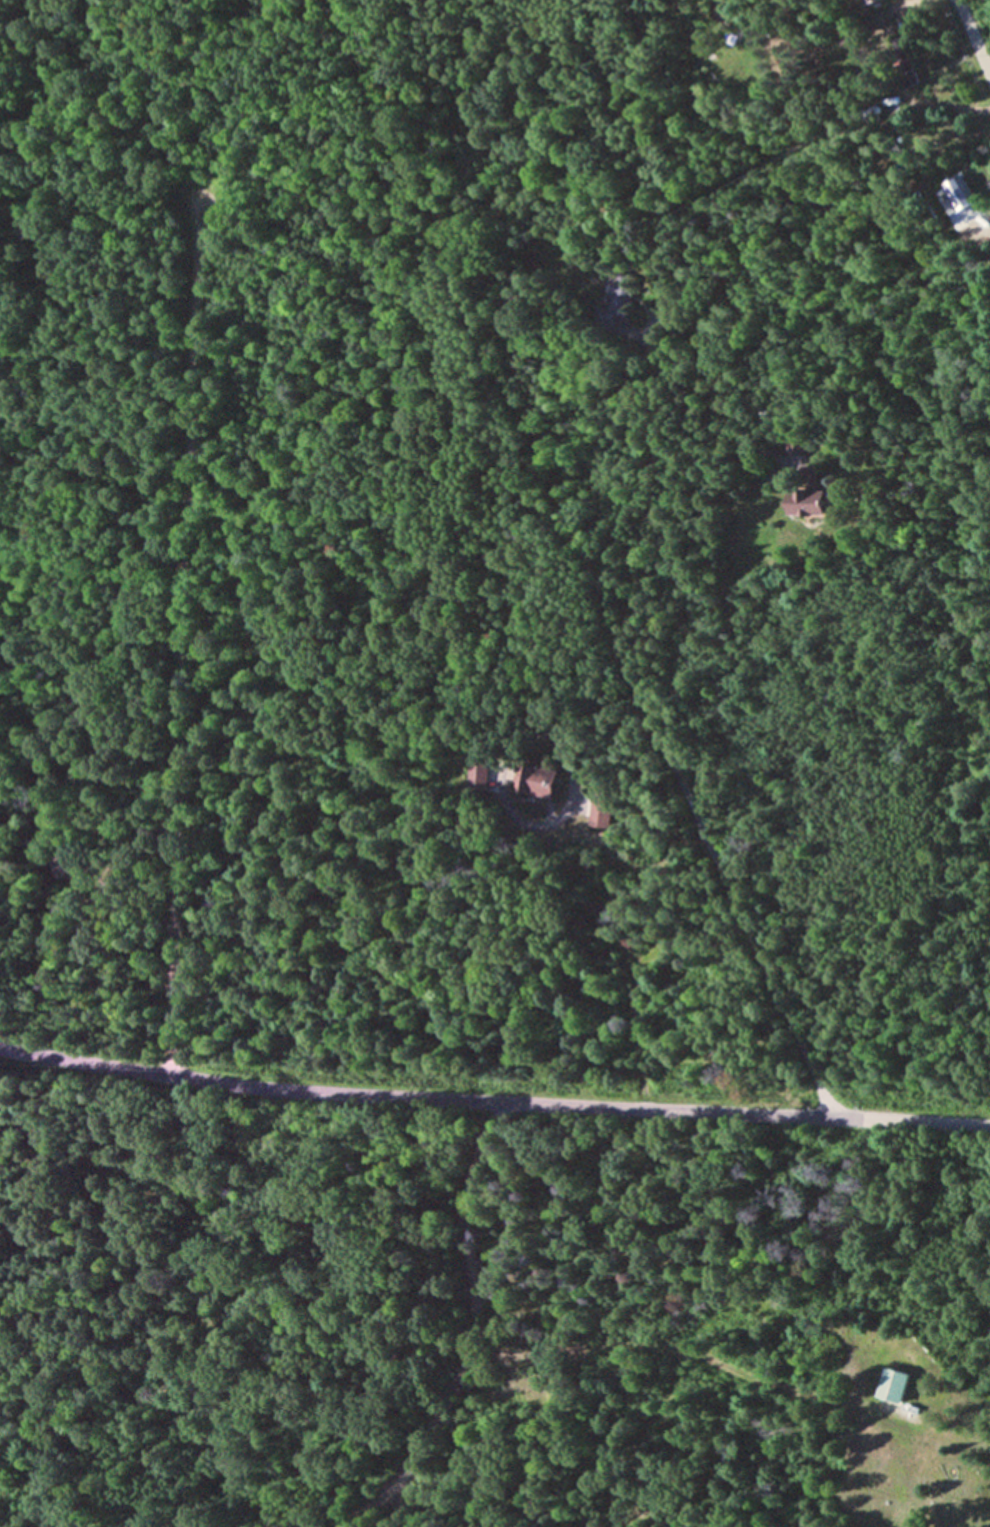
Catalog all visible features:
building: (875, 1)
road: (972, 40)
building: (612, 294)
building: (809, 502)
road: (576, 559)
road: (178, 643)
road: (591, 716)
building: (541, 782)
building: (601, 810)
building: (65, 865)
road: (622, 951)
road: (493, 1104)
road: (461, 1337)
road: (670, 1346)
building: (897, 1385)

